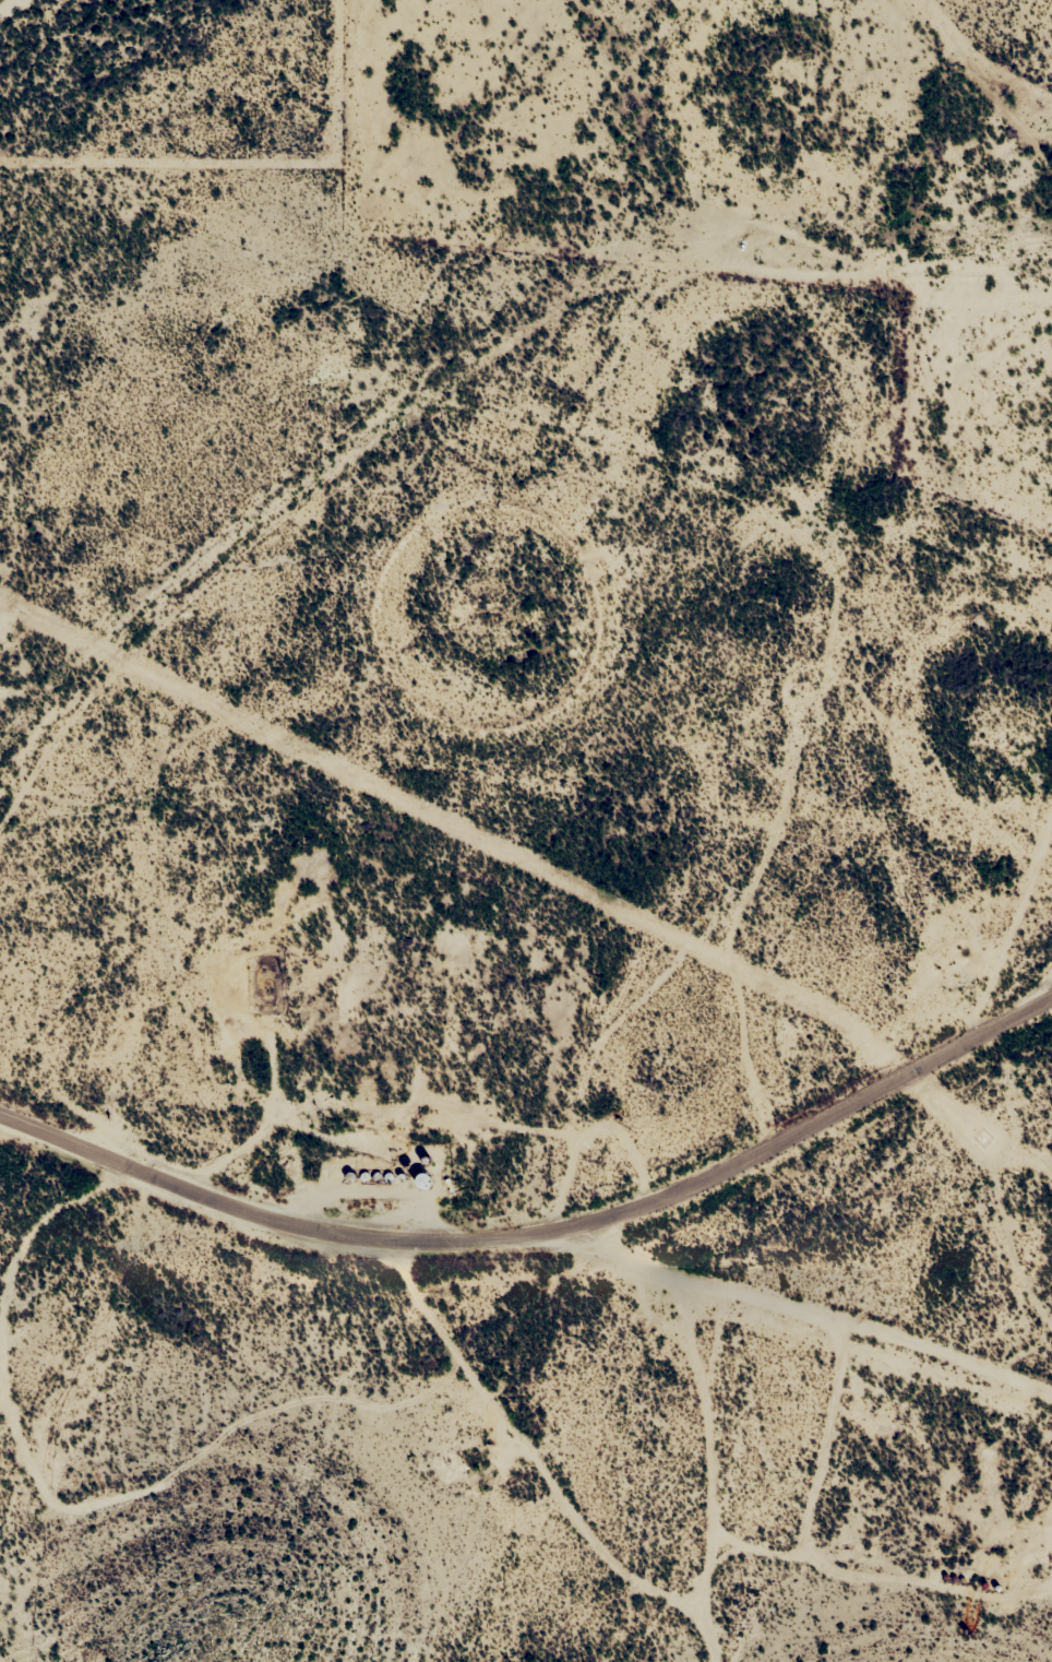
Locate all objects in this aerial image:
building: (420, 1178)
road: (548, 1224)
road: (825, 1303)
road: (519, 1463)

